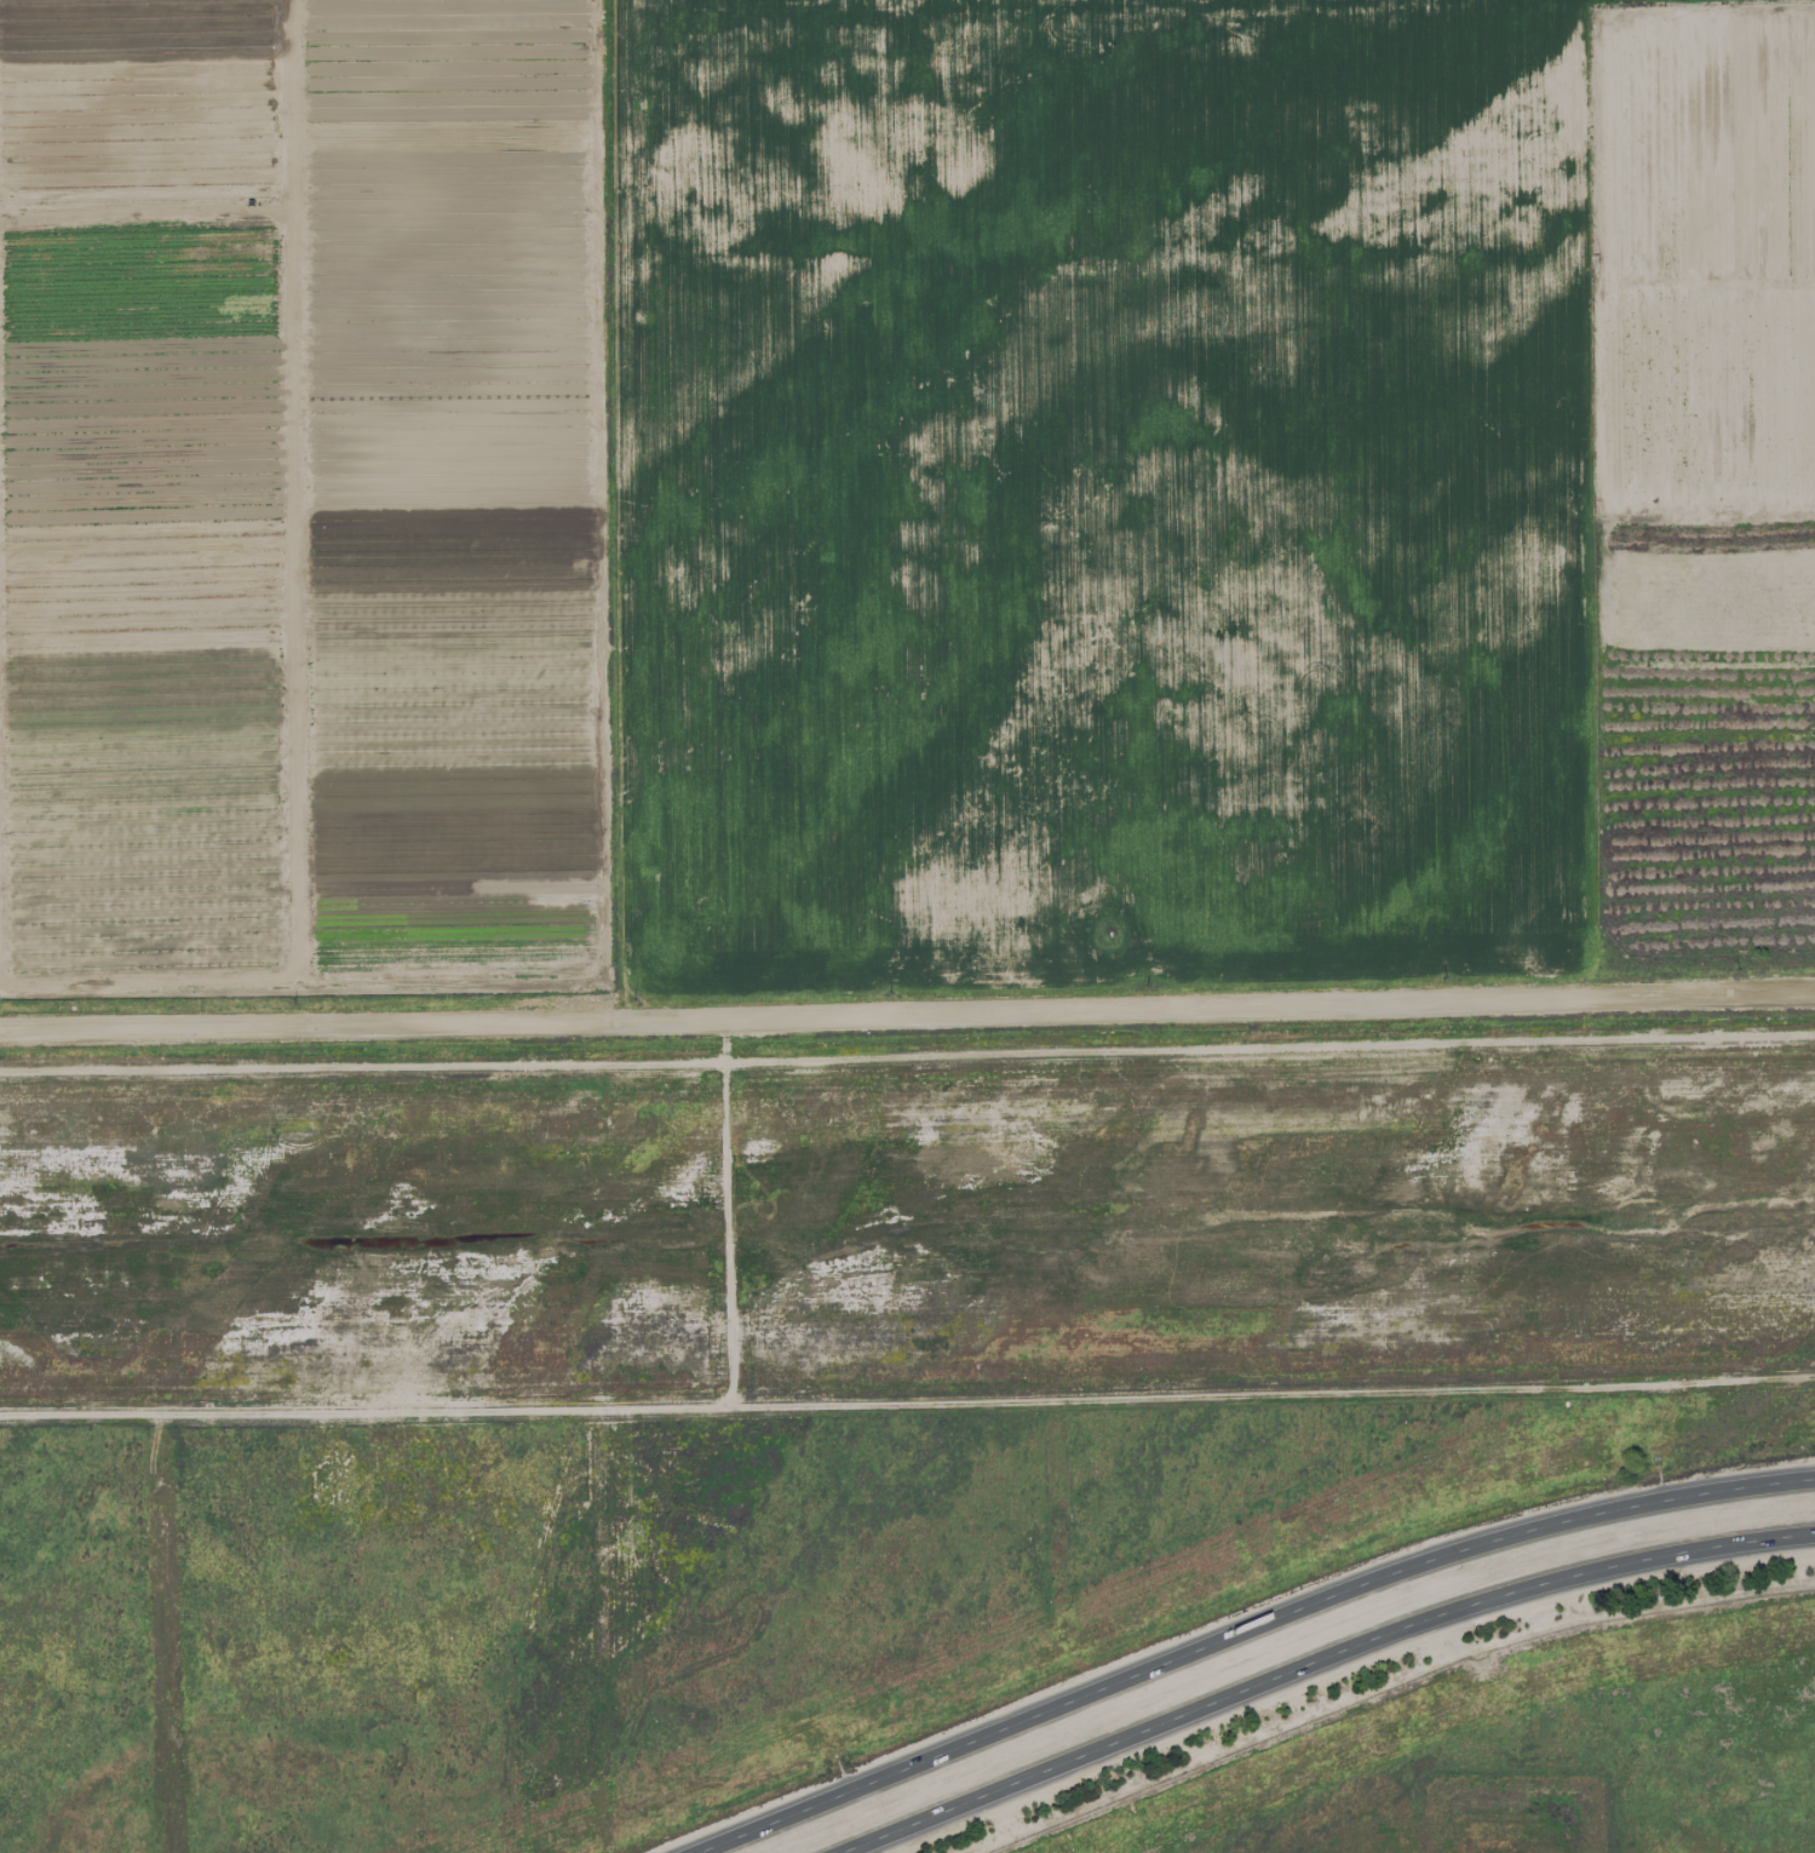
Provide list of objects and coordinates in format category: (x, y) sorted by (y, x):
road: (907, 1016)
road: (907, 1394)
road: (1246, 1631)
road: (1320, 1660)

